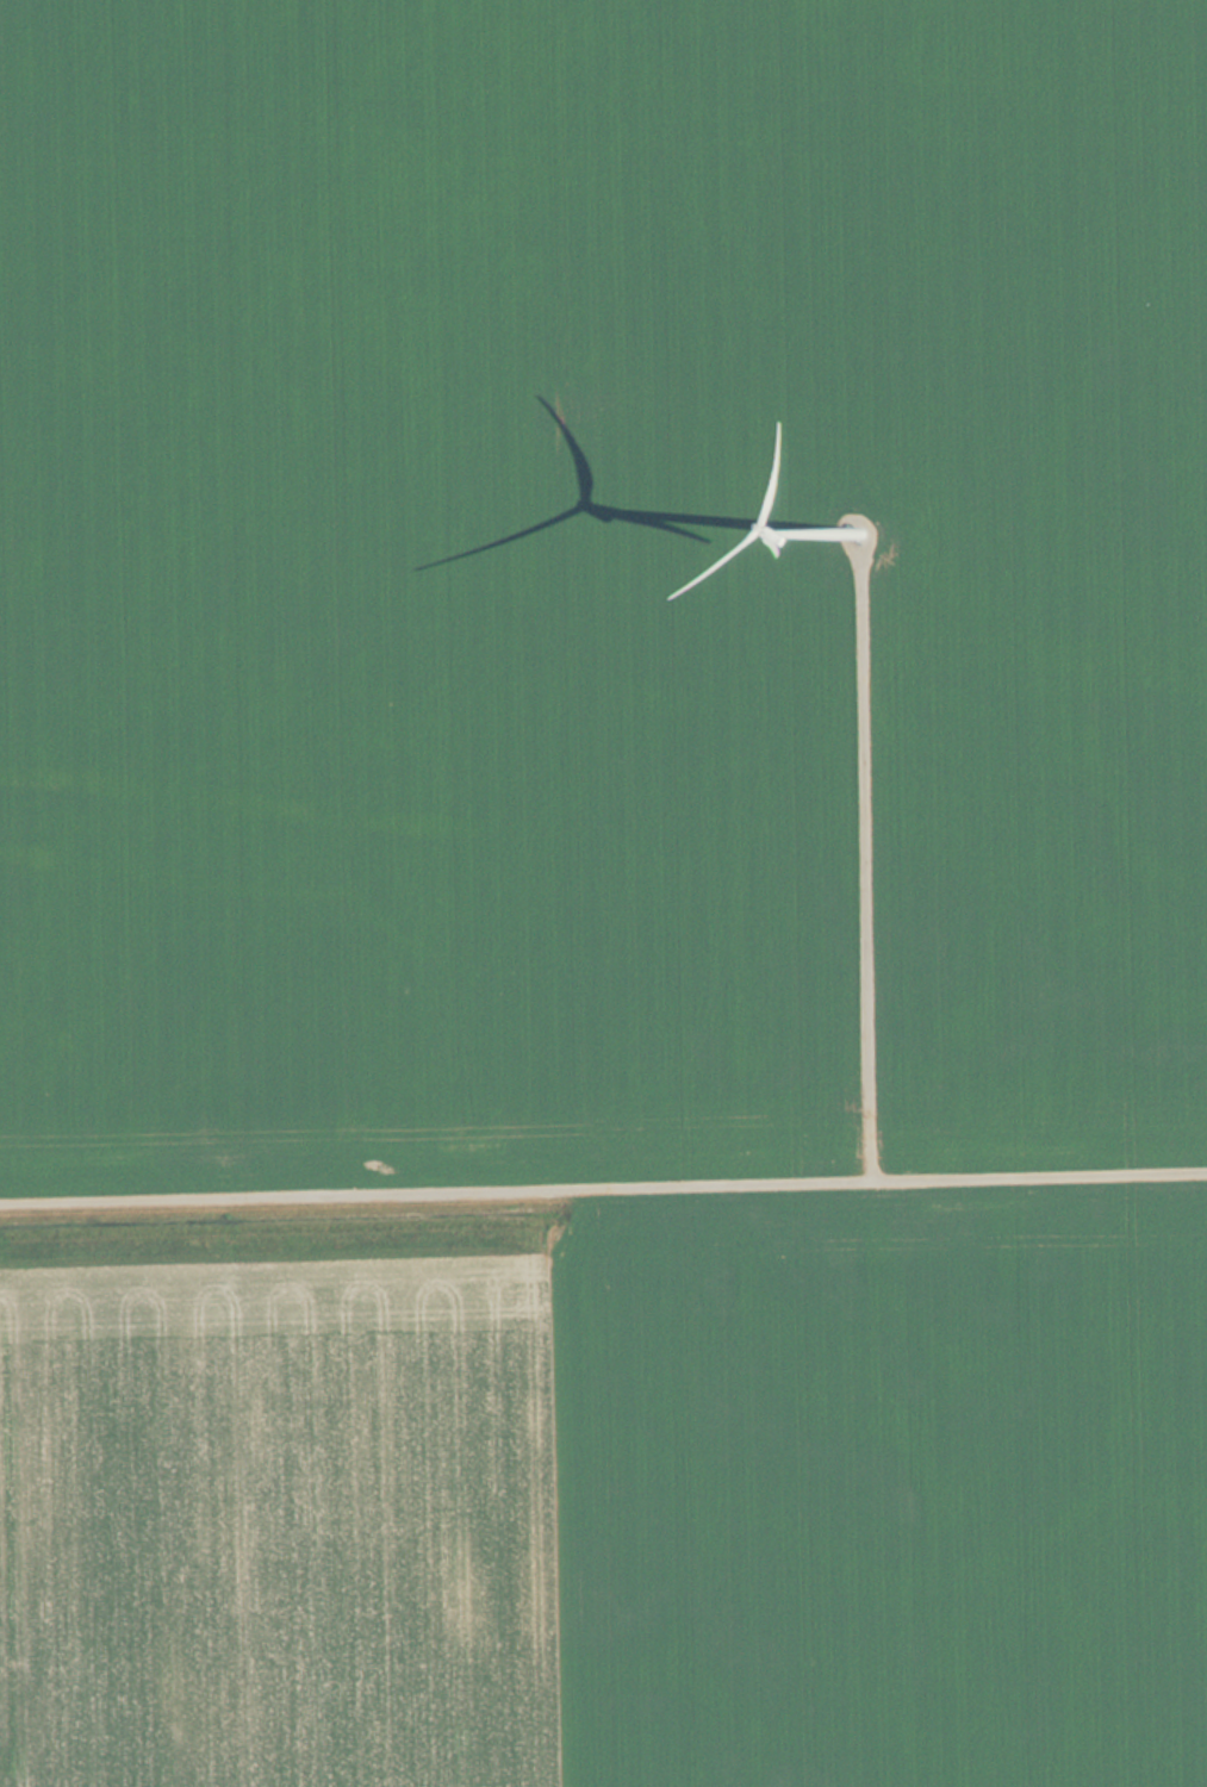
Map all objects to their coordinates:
wind turbine: (859, 533)
road: (859, 879)
road: (603, 1173)

